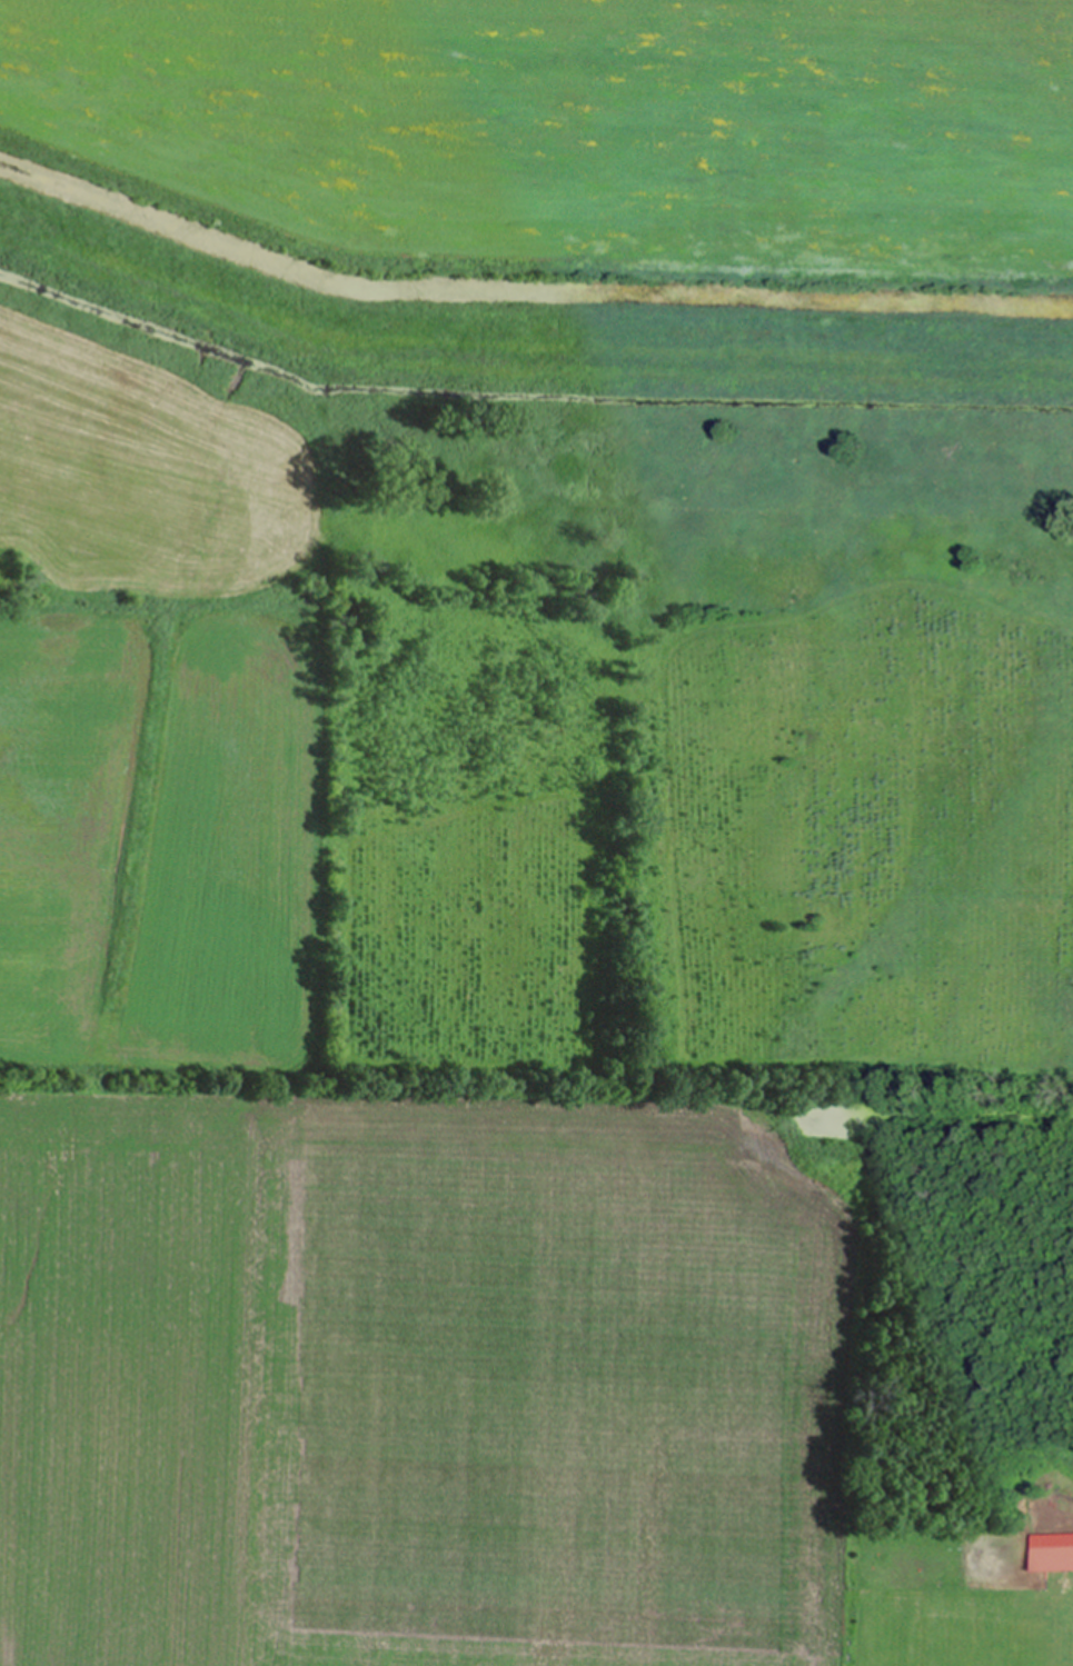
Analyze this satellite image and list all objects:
building: (1053, 1560)

